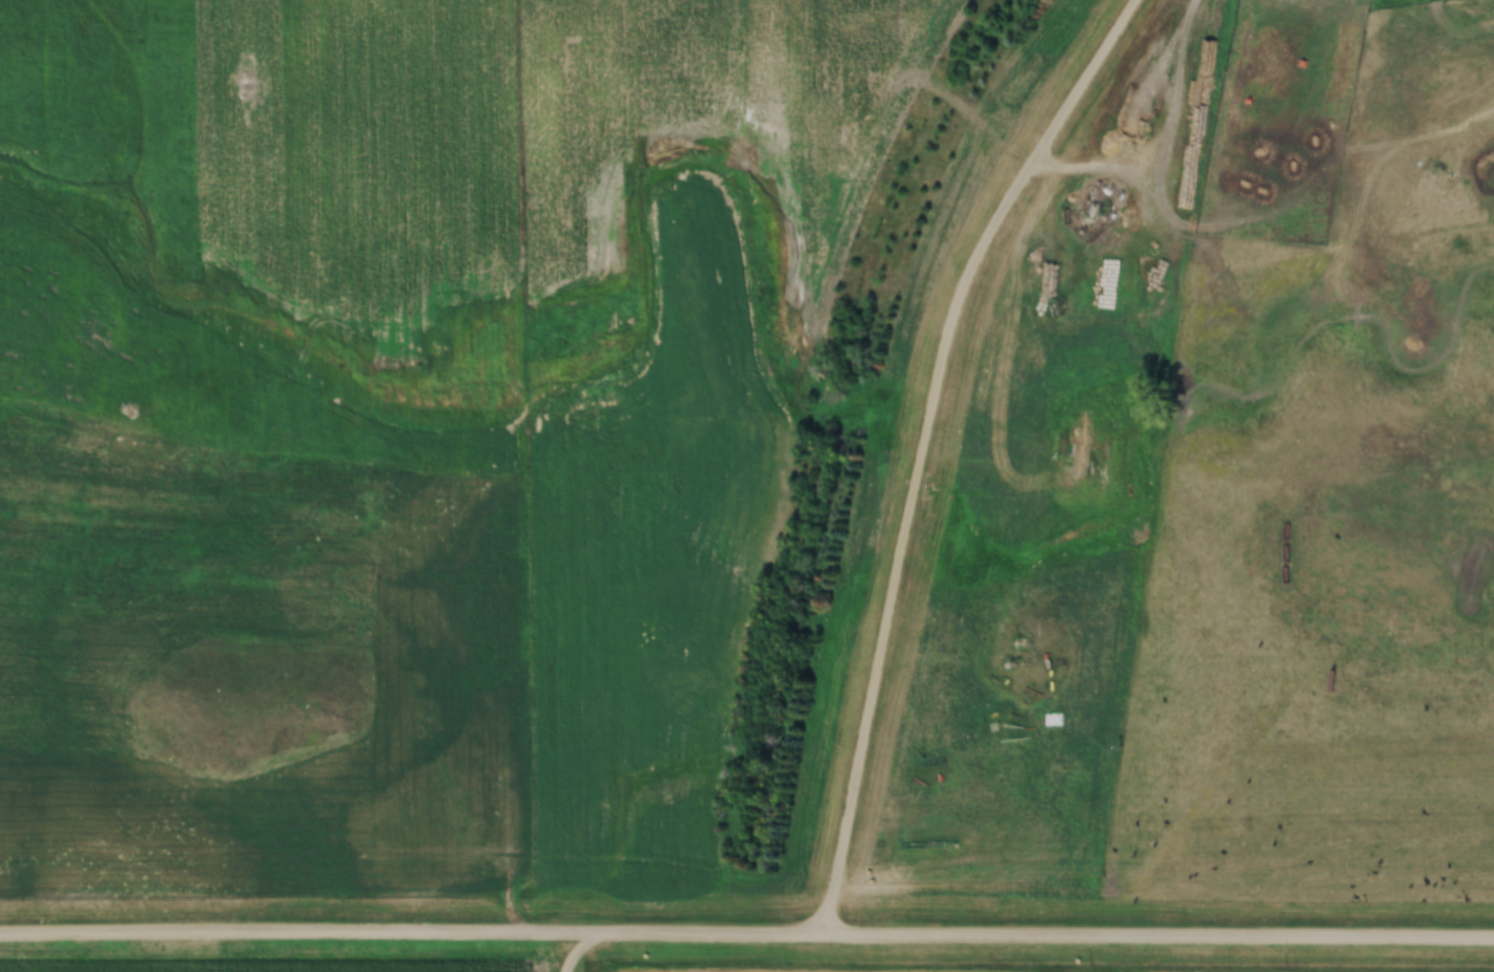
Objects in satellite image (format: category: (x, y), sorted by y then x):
road: (1121, 163)
road: (1216, 178)
road: (924, 445)
road: (409, 506)
road: (747, 932)
road: (561, 952)

